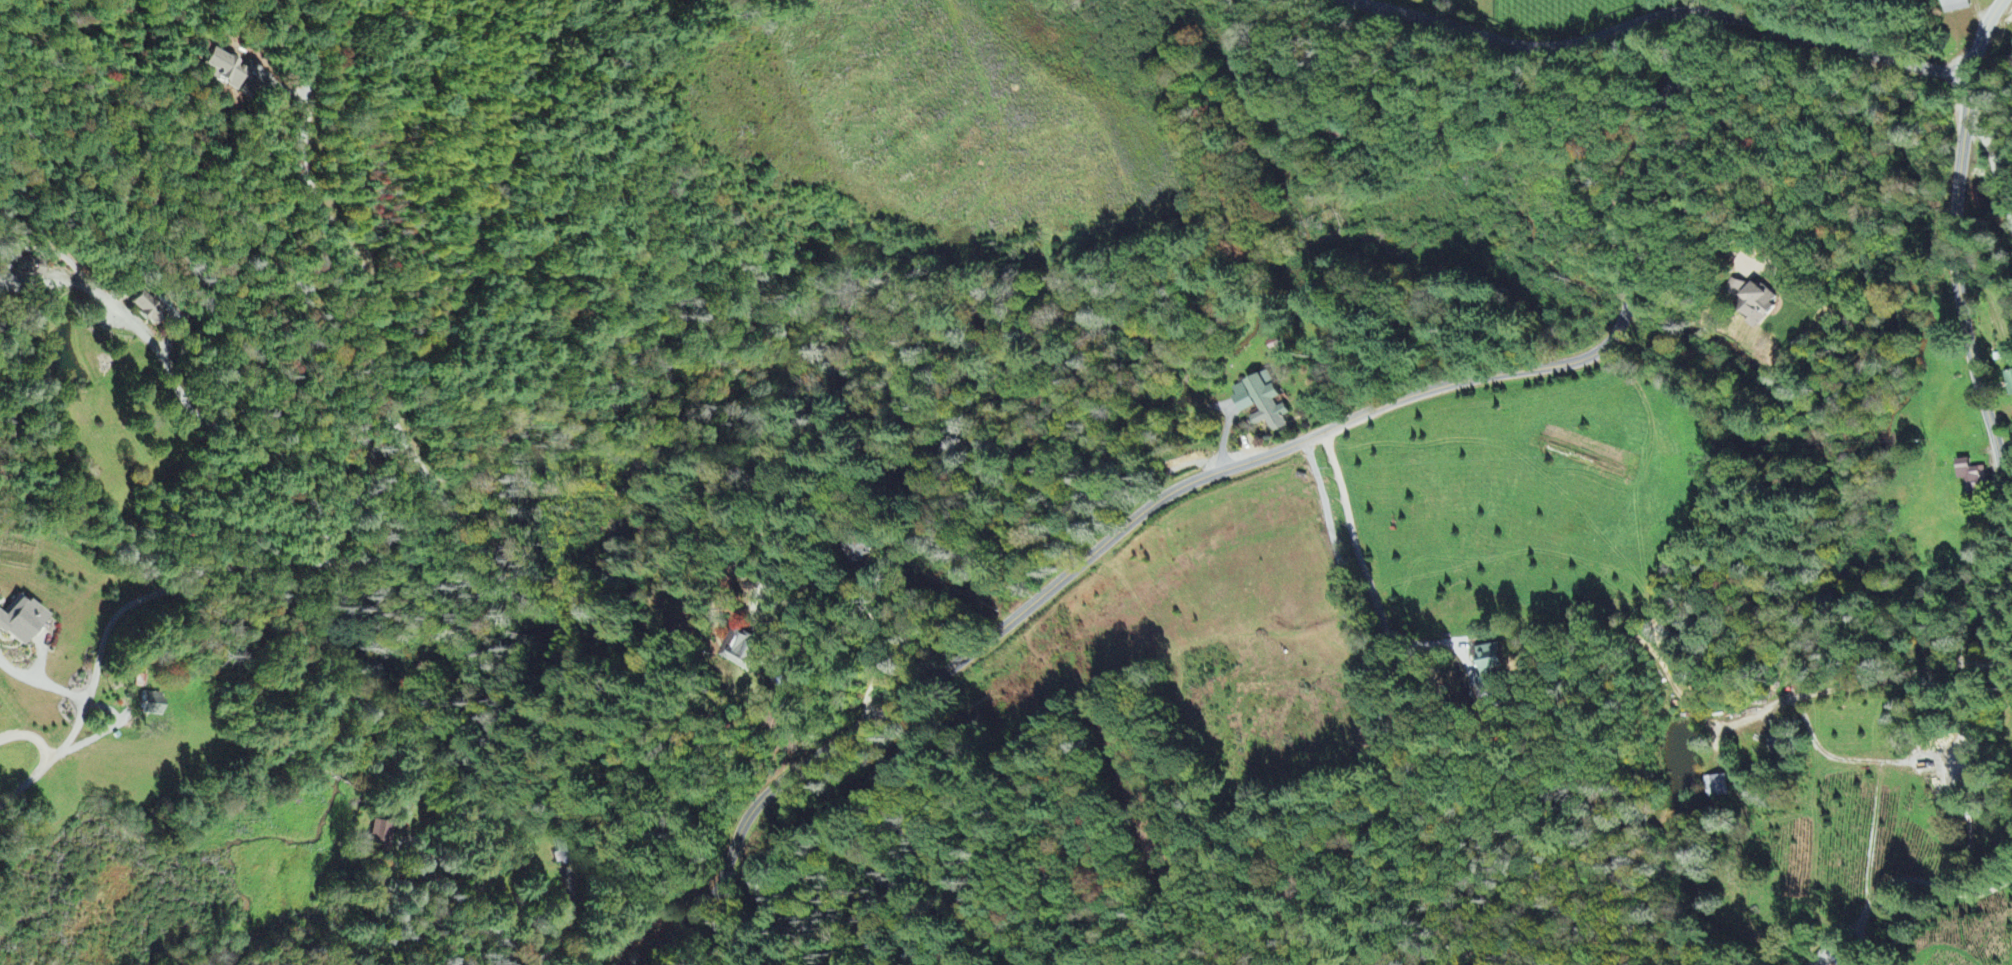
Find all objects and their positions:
road: (1706, 6)
building: (1952, 6)
road: (1502, 21)
road: (1616, 34)
road: (1931, 70)
building: (232, 74)
road: (1992, 169)
building: (17, 270)
building: (1751, 303)
building: (149, 310)
building: (1259, 403)
road: (1980, 407)
road: (1184, 474)
building: (1969, 475)
road: (447, 505)
road: (1361, 566)
building: (16, 623)
building: (738, 649)
building: (1487, 660)
building: (148, 706)
road: (1812, 740)
road: (41, 754)
building: (1716, 788)
building: (382, 834)

